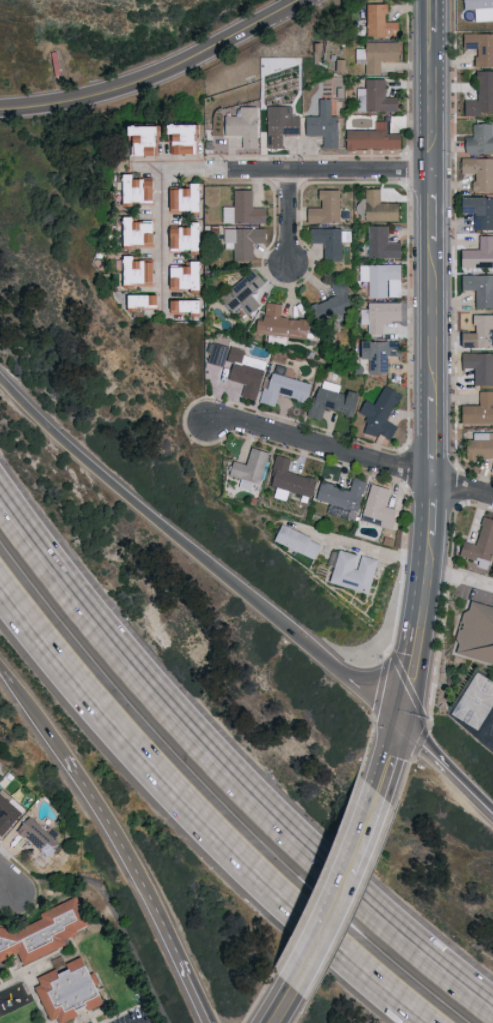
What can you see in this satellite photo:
building: (479, 9)
building: (377, 21)
building: (479, 48)
building: (375, 55)
road: (161, 76)
building: (480, 95)
building: (372, 97)
building: (322, 124)
building: (278, 125)
building: (240, 126)
building: (176, 138)
building: (370, 138)
building: (135, 139)
building: (479, 139)
road: (316, 170)
building: (478, 172)
building: (132, 190)
building: (180, 198)
building: (323, 207)
building: (377, 207)
building: (242, 209)
building: (477, 211)
road: (287, 217)
road: (161, 218)
building: (133, 231)
building: (180, 237)
building: (328, 240)
building: (242, 241)
building: (380, 243)
building: (477, 254)
building: (133, 271)
building: (180, 276)
building: (381, 280)
building: (478, 289)
building: (240, 294)
building: (139, 300)
building: (331, 303)
building: (180, 306)
building: (379, 315)
building: (278, 323)
building: (477, 333)
building: (376, 353)
building: (215, 354)
road: (433, 363)
building: (478, 367)
building: (244, 371)
building: (282, 386)
building: (329, 400)
building: (478, 410)
building: (378, 413)
building: (478, 446)
road: (349, 452)
building: (247, 467)
building: (286, 479)
building: (339, 493)
building: (376, 506)
building: (294, 540)
building: (478, 544)
road: (361, 546)
road: (198, 555)
building: (350, 570)
road: (459, 576)
building: (478, 633)
road: (33, 714)
traffic signals: (400, 724)
road: (389, 761)
road: (446, 767)
road: (222, 777)
building: (7, 810)
road: (199, 818)
building: (36, 840)
road: (11, 884)
road: (145, 887)
road: (11, 900)
road: (333, 902)
road: (119, 923)
building: (42, 930)
building: (63, 990)
road: (279, 1013)
road: (146, 1020)

